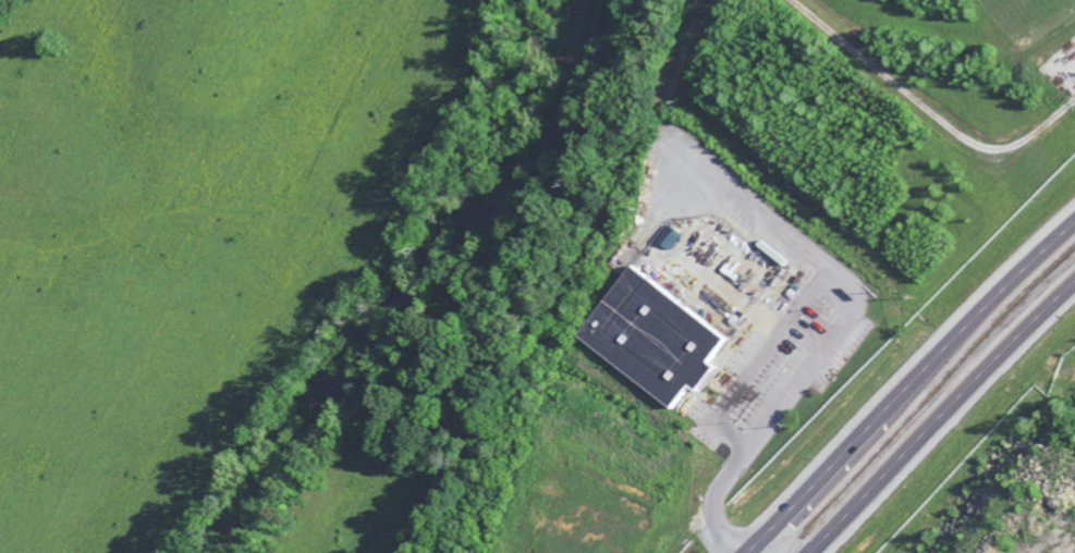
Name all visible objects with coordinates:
building: (667, 242)
road: (913, 391)
road: (945, 425)

